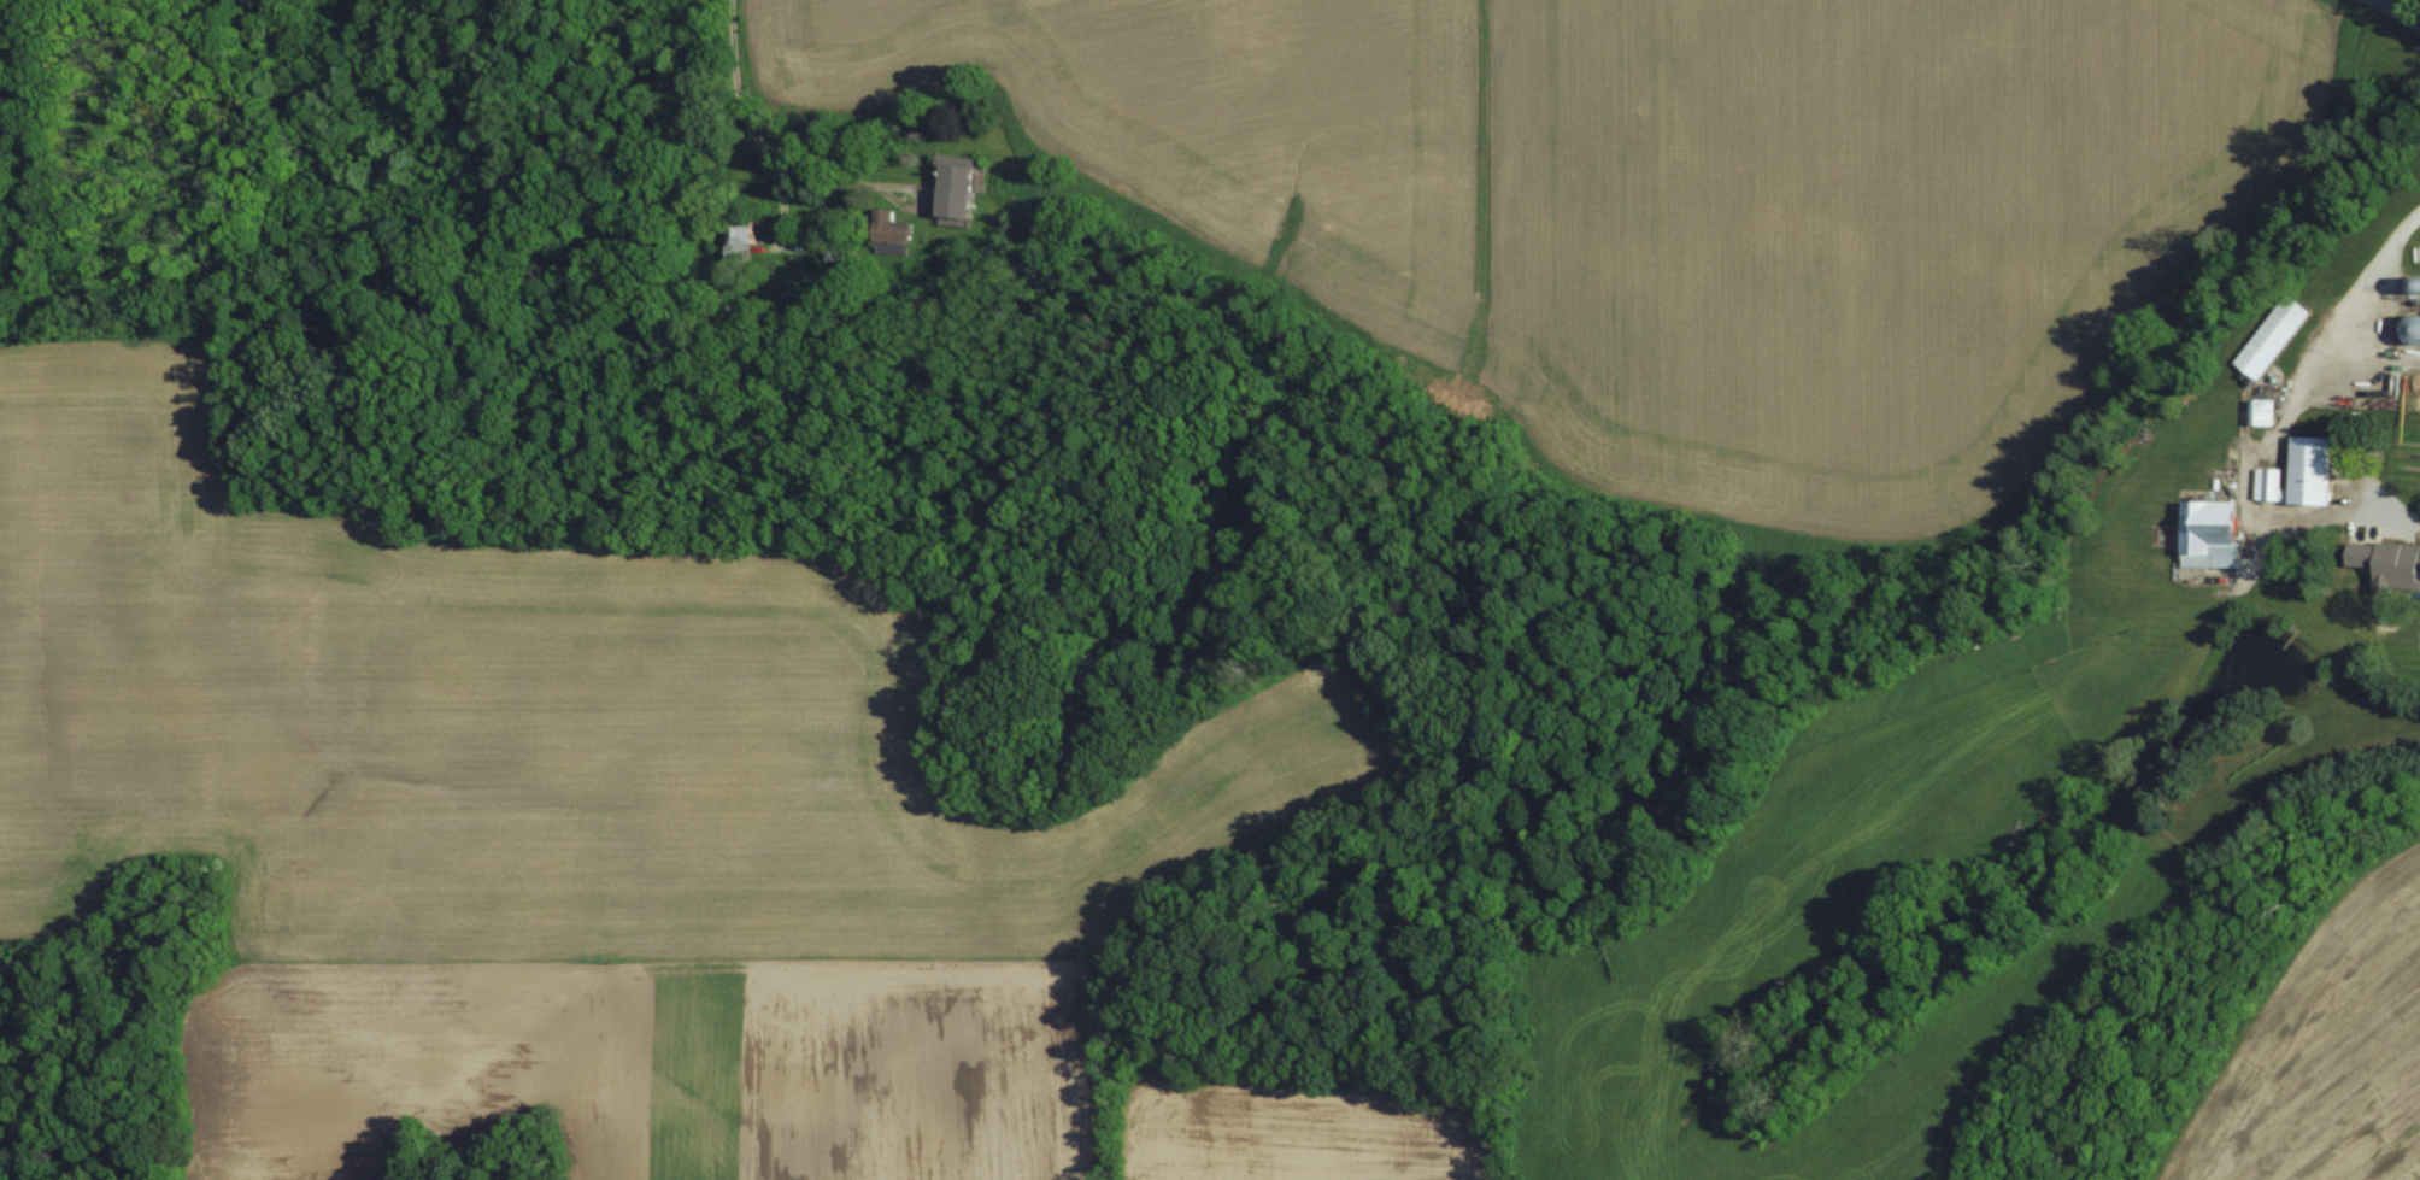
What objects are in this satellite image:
road: (2398, 12)
road: (746, 124)
building: (961, 188)
building: (892, 234)
silo: (2414, 265)
building: (2416, 292)
silo: (2410, 311)
building: (2272, 322)
building: (2261, 398)
road: (2275, 432)
building: (2298, 458)
building: (2209, 521)

